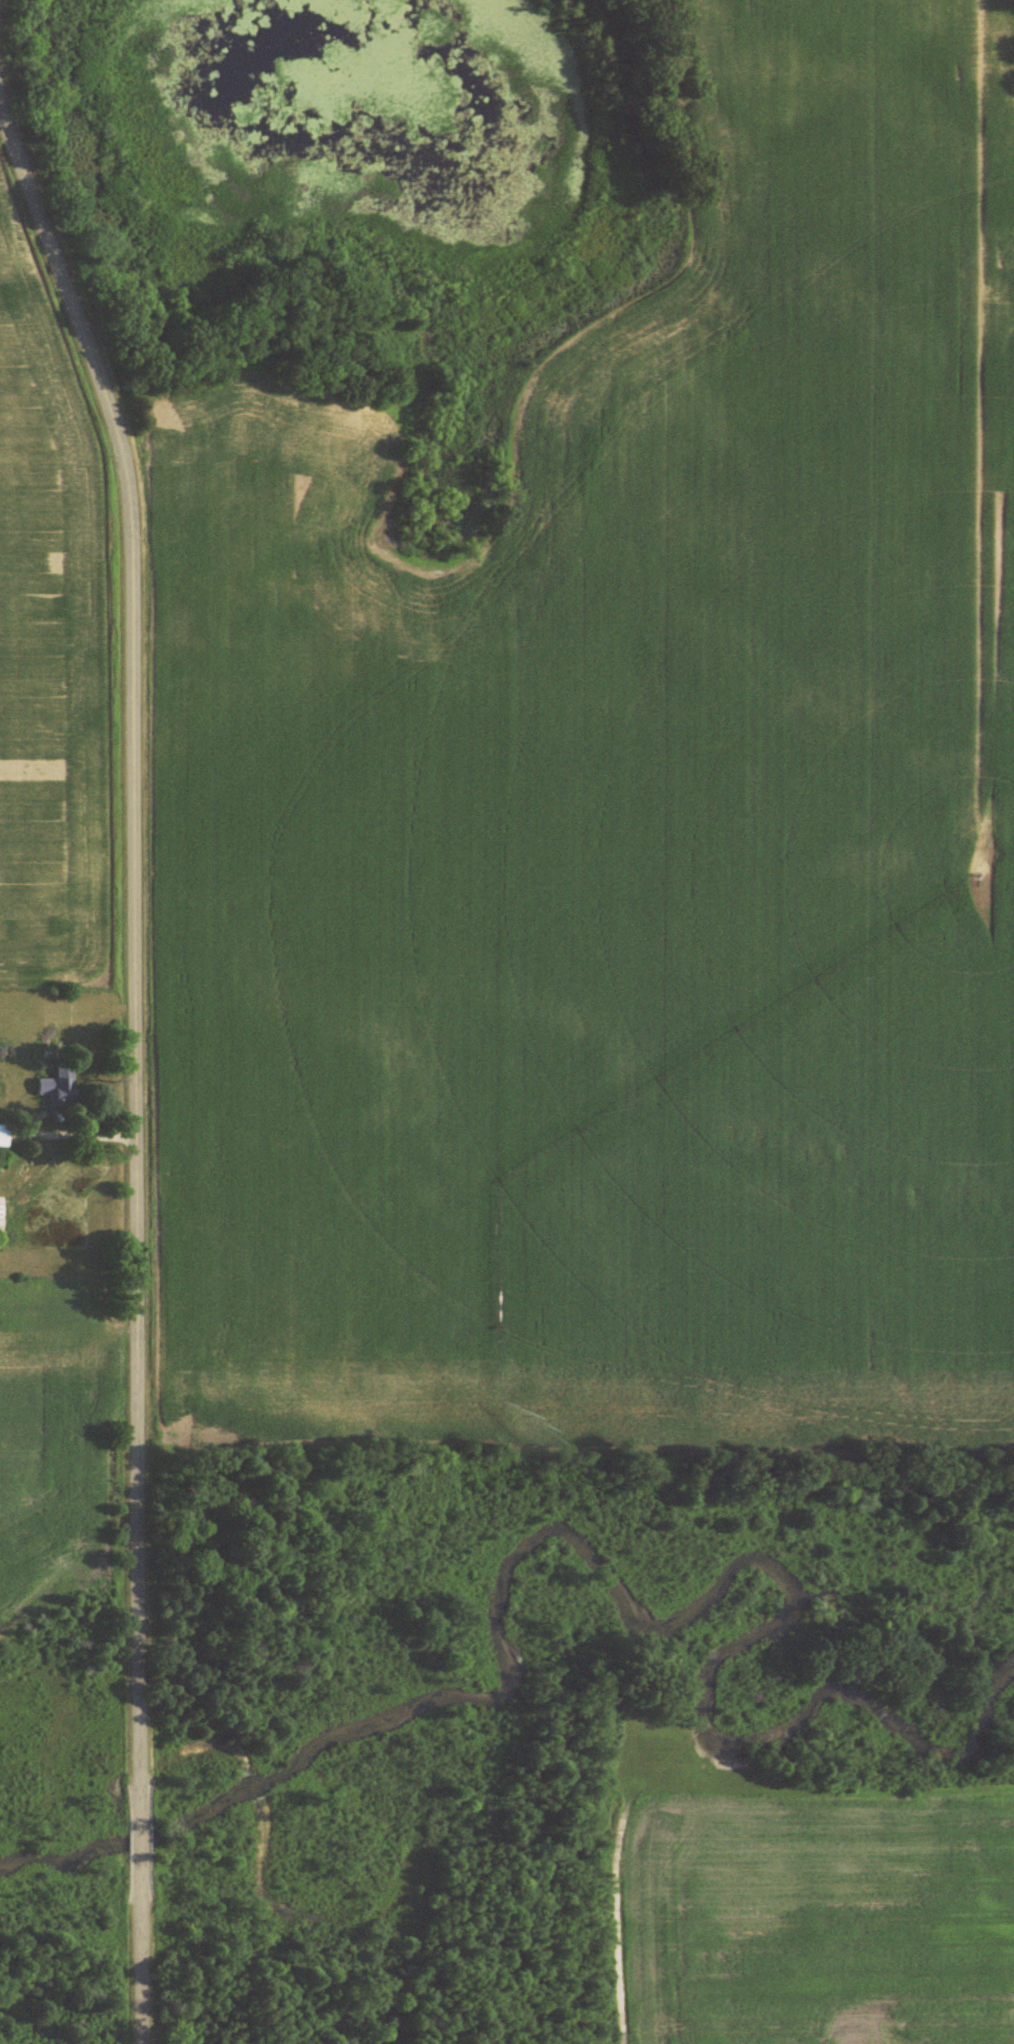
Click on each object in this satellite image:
road: (143, 1054)
building: (57, 1092)
building: (3, 1159)
building: (0, 1223)

